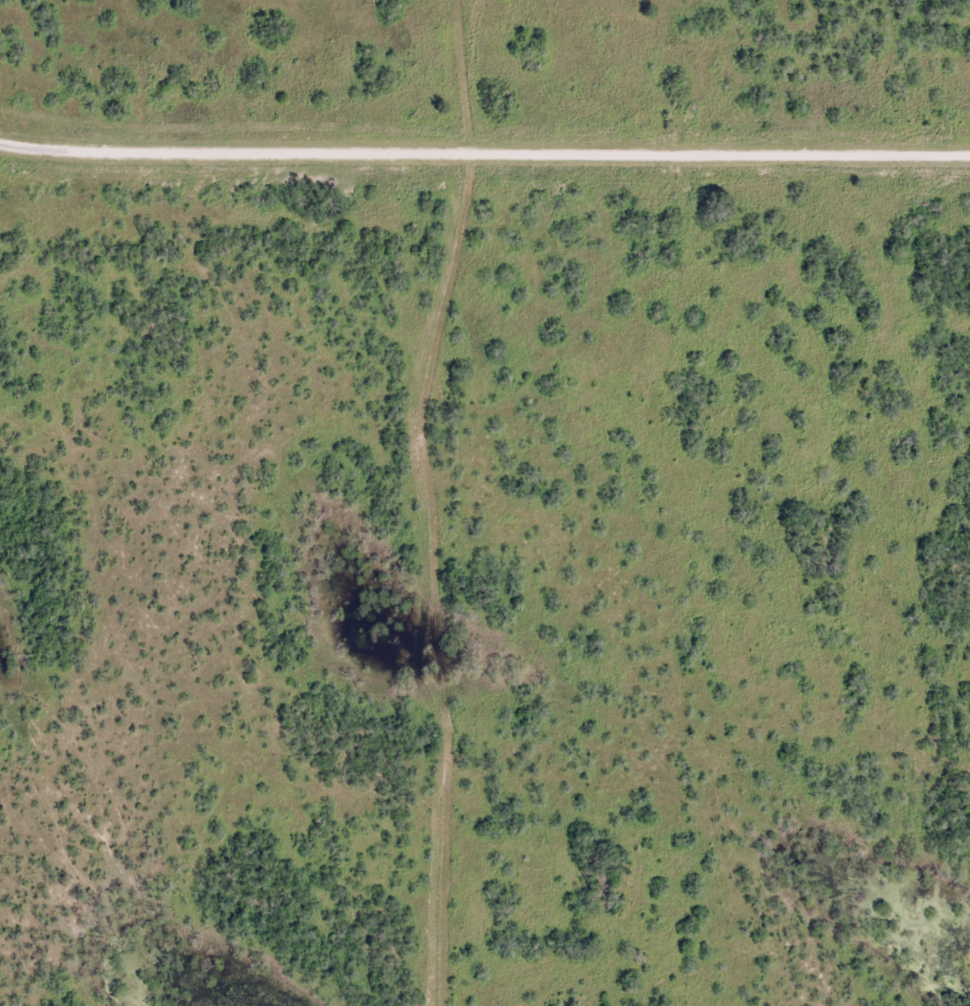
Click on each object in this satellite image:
road: (485, 159)

